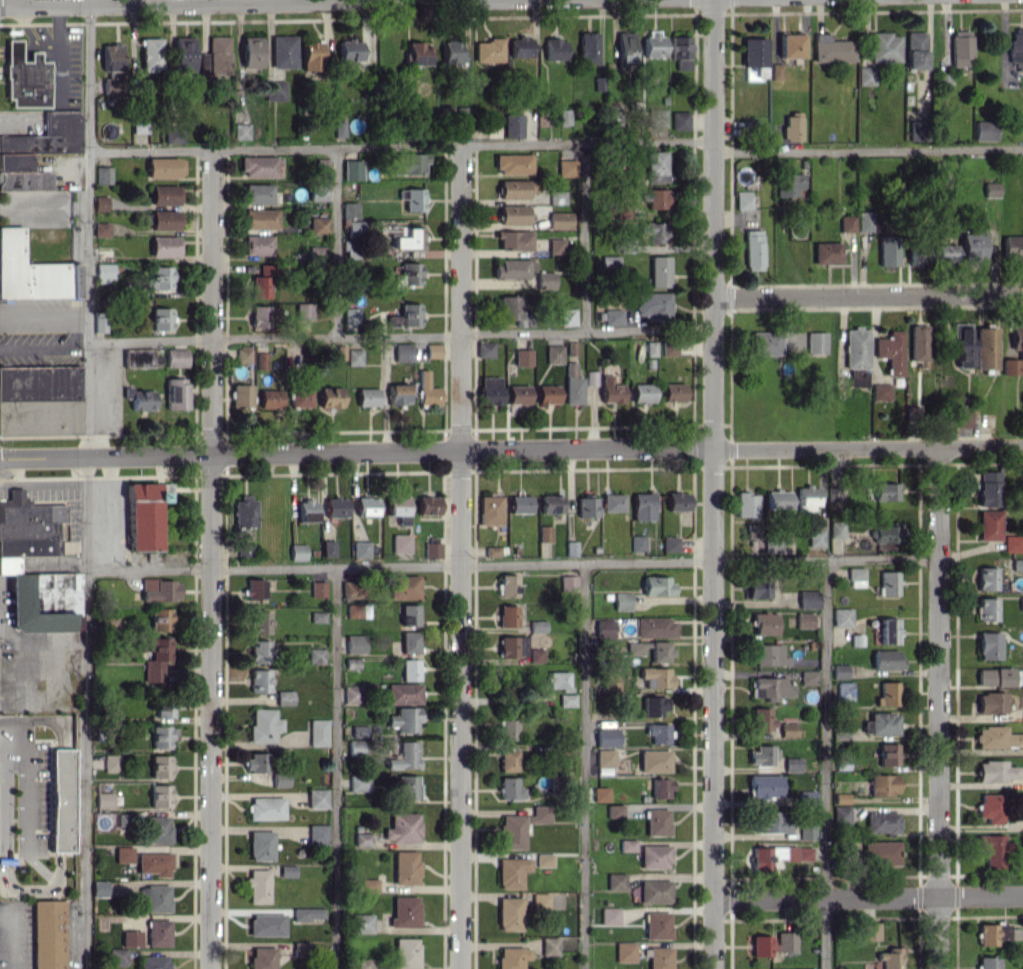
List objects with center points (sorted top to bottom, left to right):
road: (200, 2)
road: (26, 26)
building: (653, 43)
building: (789, 45)
building: (520, 46)
building: (884, 46)
road: (28, 47)
building: (587, 47)
building: (625, 47)
building: (960, 48)
building: (1016, 48)
building: (350, 49)
building: (554, 49)
building: (831, 49)
building: (488, 50)
building: (915, 50)
building: (283, 51)
building: (452, 51)
building: (680, 51)
road: (58, 52)
building: (251, 52)
building: (183, 53)
building: (418, 53)
building: (151, 54)
building: (218, 55)
building: (111, 56)
building: (311, 56)
building: (754, 58)
building: (203, 63)
building: (775, 71)
building: (865, 75)
building: (25, 77)
building: (274, 90)
building: (564, 116)
building: (657, 117)
building: (679, 120)
building: (141, 122)
building: (512, 125)
building: (791, 126)
building: (339, 128)
building: (915, 130)
building: (985, 130)
building: (241, 131)
building: (174, 134)
building: (48, 135)
road: (400, 146)
road: (867, 150)
building: (408, 163)
building: (513, 163)
building: (258, 166)
building: (655, 166)
building: (164, 167)
building: (322, 167)
building: (566, 168)
building: (351, 169)
building: (21, 173)
building: (103, 175)
building: (790, 183)
building: (516, 188)
building: (318, 192)
building: (257, 193)
building: (164, 194)
building: (556, 197)
building: (655, 197)
building: (411, 198)
building: (743, 199)
building: (100, 203)
building: (350, 210)
building: (165, 219)
building: (260, 219)
building: (559, 220)
building: (864, 221)
building: (846, 223)
building: (318, 224)
building: (101, 229)
building: (354, 229)
building: (652, 231)
road: (584, 237)
building: (409, 238)
building: (514, 240)
road: (335, 242)
building: (257, 244)
building: (555, 244)
building: (164, 245)
building: (971, 246)
building: (1012, 248)
building: (753, 249)
building: (887, 250)
building: (827, 252)
building: (916, 252)
building: (944, 252)
building: (609, 261)
building: (513, 268)
building: (659, 271)
building: (33, 272)
building: (104, 272)
building: (406, 275)
building: (159, 278)
building: (545, 279)
building: (260, 286)
road: (867, 295)
building: (653, 305)
building: (513, 310)
building: (303, 311)
building: (259, 316)
building: (405, 316)
building: (567, 316)
building: (612, 316)
building: (351, 317)
building: (161, 318)
building: (99, 322)
road: (399, 334)
building: (765, 342)
building: (816, 342)
building: (961, 343)
building: (917, 344)
building: (856, 347)
building: (572, 348)
building: (985, 348)
building: (485, 349)
building: (669, 349)
building: (1018, 349)
building: (433, 350)
building: (890, 351)
building: (402, 352)
building: (554, 353)
building: (243, 355)
building: (354, 356)
building: (138, 357)
building: (176, 357)
building: (522, 357)
building: (261, 360)
building: (591, 377)
building: (857, 377)
building: (427, 390)
building: (489, 390)
building: (573, 390)
building: (610, 390)
building: (881, 391)
building: (642, 392)
building: (673, 392)
building: (176, 393)
building: (547, 393)
building: (398, 394)
building: (241, 395)
building: (367, 396)
building: (330, 397)
building: (518, 397)
building: (139, 398)
building: (270, 398)
building: (300, 398)
building: (40, 399)
building: (963, 416)
road: (867, 447)
road: (356, 452)
road: (87, 484)
road: (713, 484)
building: (989, 488)
building: (884, 491)
building: (806, 499)
building: (777, 500)
building: (677, 501)
building: (613, 502)
building: (520, 503)
building: (551, 503)
building: (746, 504)
building: (428, 505)
building: (643, 505)
building: (335, 506)
building: (366, 506)
building: (587, 506)
building: (398, 508)
building: (489, 509)
building: (306, 510)
building: (244, 511)
building: (143, 515)
building: (989, 524)
building: (28, 525)
building: (836, 529)
building: (753, 531)
building: (544, 533)
building: (886, 533)
building: (815, 537)
building: (400, 543)
building: (638, 543)
building: (1012, 543)
building: (670, 544)
building: (776, 545)
building: (360, 549)
building: (432, 549)
building: (297, 552)
road: (459, 557)
road: (210, 559)
building: (1017, 564)
road: (513, 565)
building: (986, 578)
building: (568, 583)
building: (888, 583)
building: (508, 584)
building: (656, 585)
building: (404, 586)
building: (318, 588)
building: (351, 588)
building: (757, 588)
building: (253, 589)
building: (159, 590)
building: (42, 599)
building: (808, 599)
building: (621, 601)
building: (1021, 603)
building: (986, 609)
building: (354, 610)
building: (409, 615)
building: (317, 616)
building: (507, 616)
building: (841, 616)
building: (160, 619)
building: (804, 620)
building: (259, 622)
building: (764, 623)
building: (537, 626)
building: (653, 627)
building: (602, 628)
building: (888, 630)
building: (409, 641)
building: (355, 643)
building: (988, 645)
building: (512, 647)
building: (635, 648)
building: (259, 651)
building: (660, 651)
building: (536, 654)
building: (316, 655)
building: (769, 655)
building: (1022, 657)
building: (156, 658)
building: (886, 659)
building: (409, 669)
building: (839, 670)
building: (994, 676)
building: (656, 677)
building: (808, 677)
building: (259, 680)
building: (559, 680)
building: (770, 688)
building: (844, 690)
building: (402, 693)
building: (351, 694)
building: (887, 694)
building: (284, 697)
building: (567, 700)
building: (991, 702)
building: (653, 705)
road: (939, 707)
building: (164, 708)
building: (1022, 711)
building: (761, 718)
building: (404, 719)
building: (881, 723)
building: (263, 725)
building: (507, 729)
building: (788, 729)
building: (359, 730)
building: (317, 732)
building: (657, 732)
building: (161, 736)
building: (606, 737)
building: (997, 737)
building: (355, 747)
building: (763, 754)
building: (887, 754)
building: (404, 756)
building: (604, 757)
building: (508, 760)
building: (654, 760)
building: (257, 761)
building: (110, 762)
building: (792, 764)
road: (825, 764)
building: (159, 766)
road: (583, 766)
road: (334, 768)
building: (995, 770)
road: (22, 776)
building: (280, 780)
building: (358, 783)
building: (883, 784)
building: (764, 785)
building: (407, 787)
building: (660, 787)
building: (510, 788)
building: (600, 793)
building: (159, 795)
building: (806, 797)
building: (841, 797)
building: (317, 798)
building: (103, 799)
building: (61, 800)
building: (991, 807)
building: (265, 808)
building: (614, 811)
building: (841, 814)
building: (123, 820)
building: (771, 821)
building: (657, 822)
building: (882, 822)
building: (519, 826)
building: (402, 828)
building: (157, 829)
building: (806, 831)
building: (317, 834)
building: (362, 839)
building: (260, 845)
building: (627, 845)
building: (992, 849)
building: (881, 852)
building: (123, 854)
building: (654, 856)
building: (777, 856)
building: (543, 859)
building: (153, 863)
building: (405, 867)
building: (287, 870)
building: (511, 872)
building: (615, 881)
building: (368, 885)
building: (257, 886)
building: (110, 888)
building: (654, 891)
building: (155, 897)
road: (869, 897)
building: (540, 901)
building: (404, 911)
building: (307, 913)
building: (509, 913)
building: (609, 915)
building: (361, 923)
building: (266, 924)
building: (657, 925)
building: (870, 930)
building: (157, 932)
building: (995, 933)
building: (47, 934)
building: (130, 938)
building: (773, 944)
building: (549, 945)
building: (299, 948)
building: (624, 951)
building: (405, 952)
building: (116, 956)
building: (262, 957)
building: (512, 957)
building: (659, 957)
building: (890, 958)
building: (153, 962)
building: (364, 963)
building: (986, 963)
building: (809, 968)

